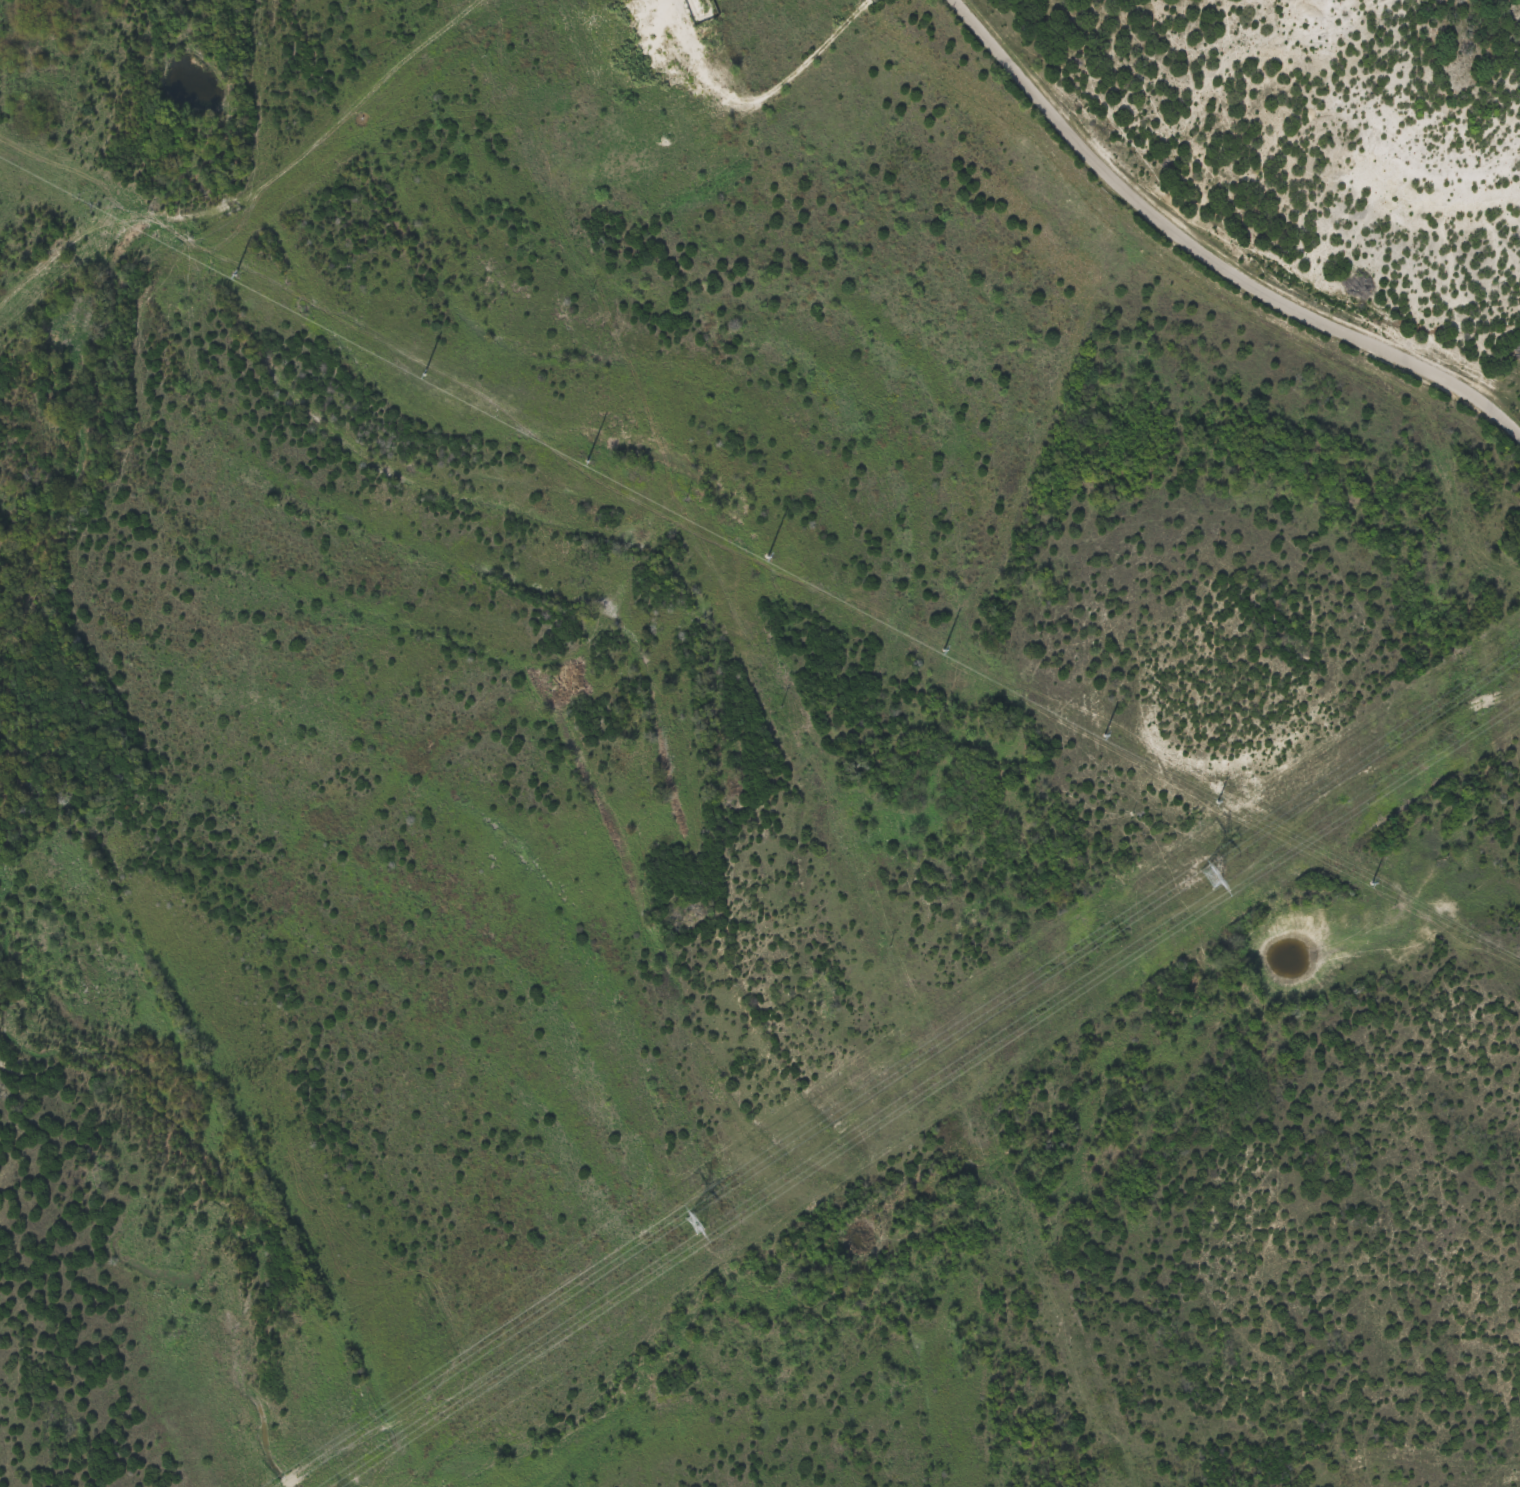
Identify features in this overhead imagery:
road: (1195, 102)
road: (1203, 261)
power tower: (1219, 875)
power tower: (699, 1223)

